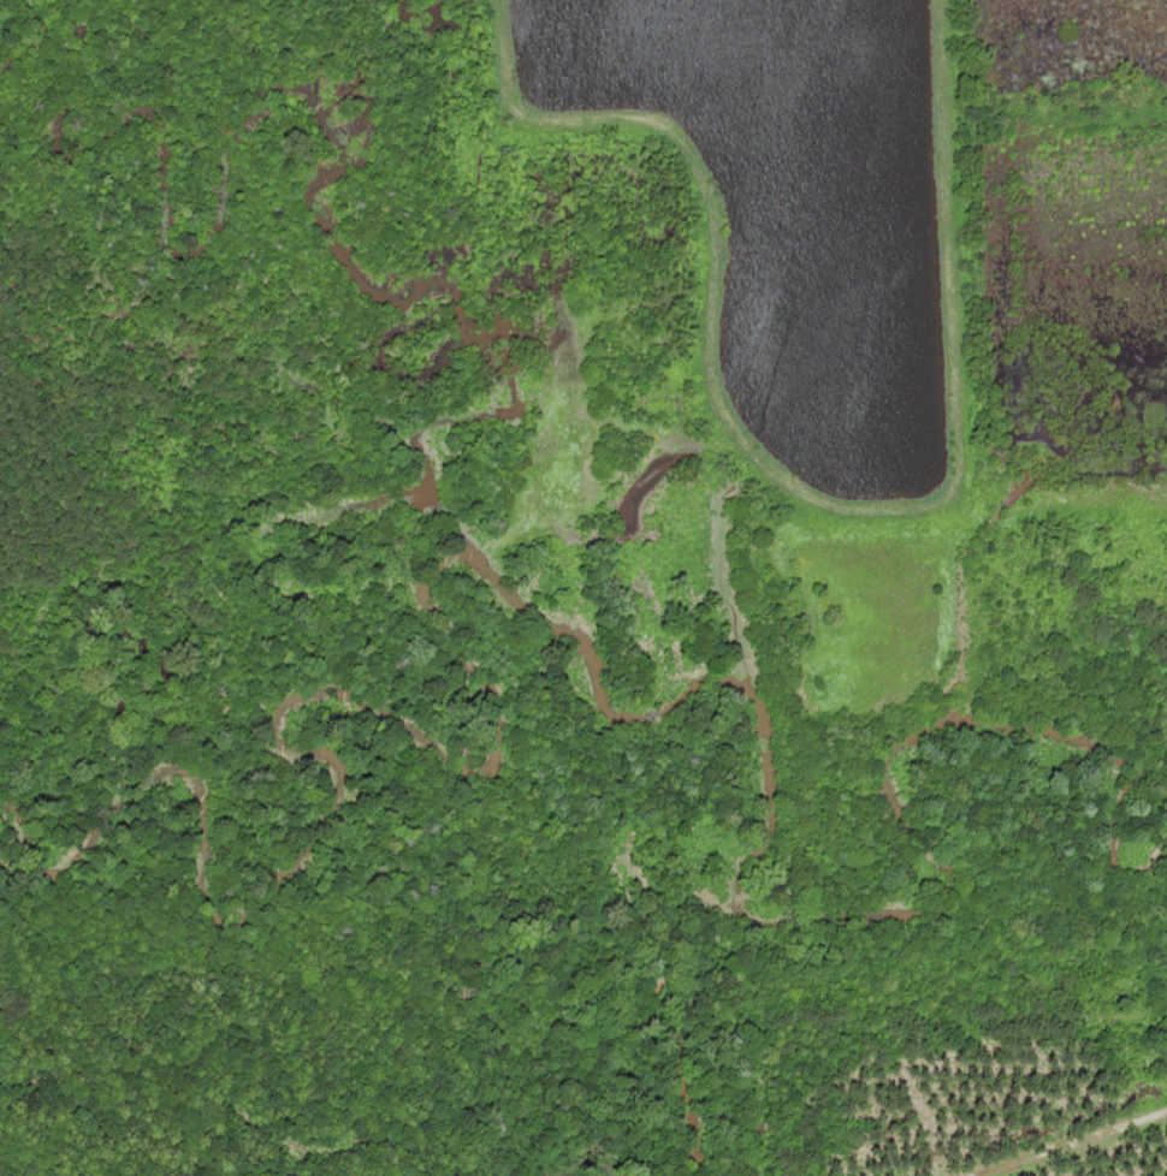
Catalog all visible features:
road: (1161, 1174)

